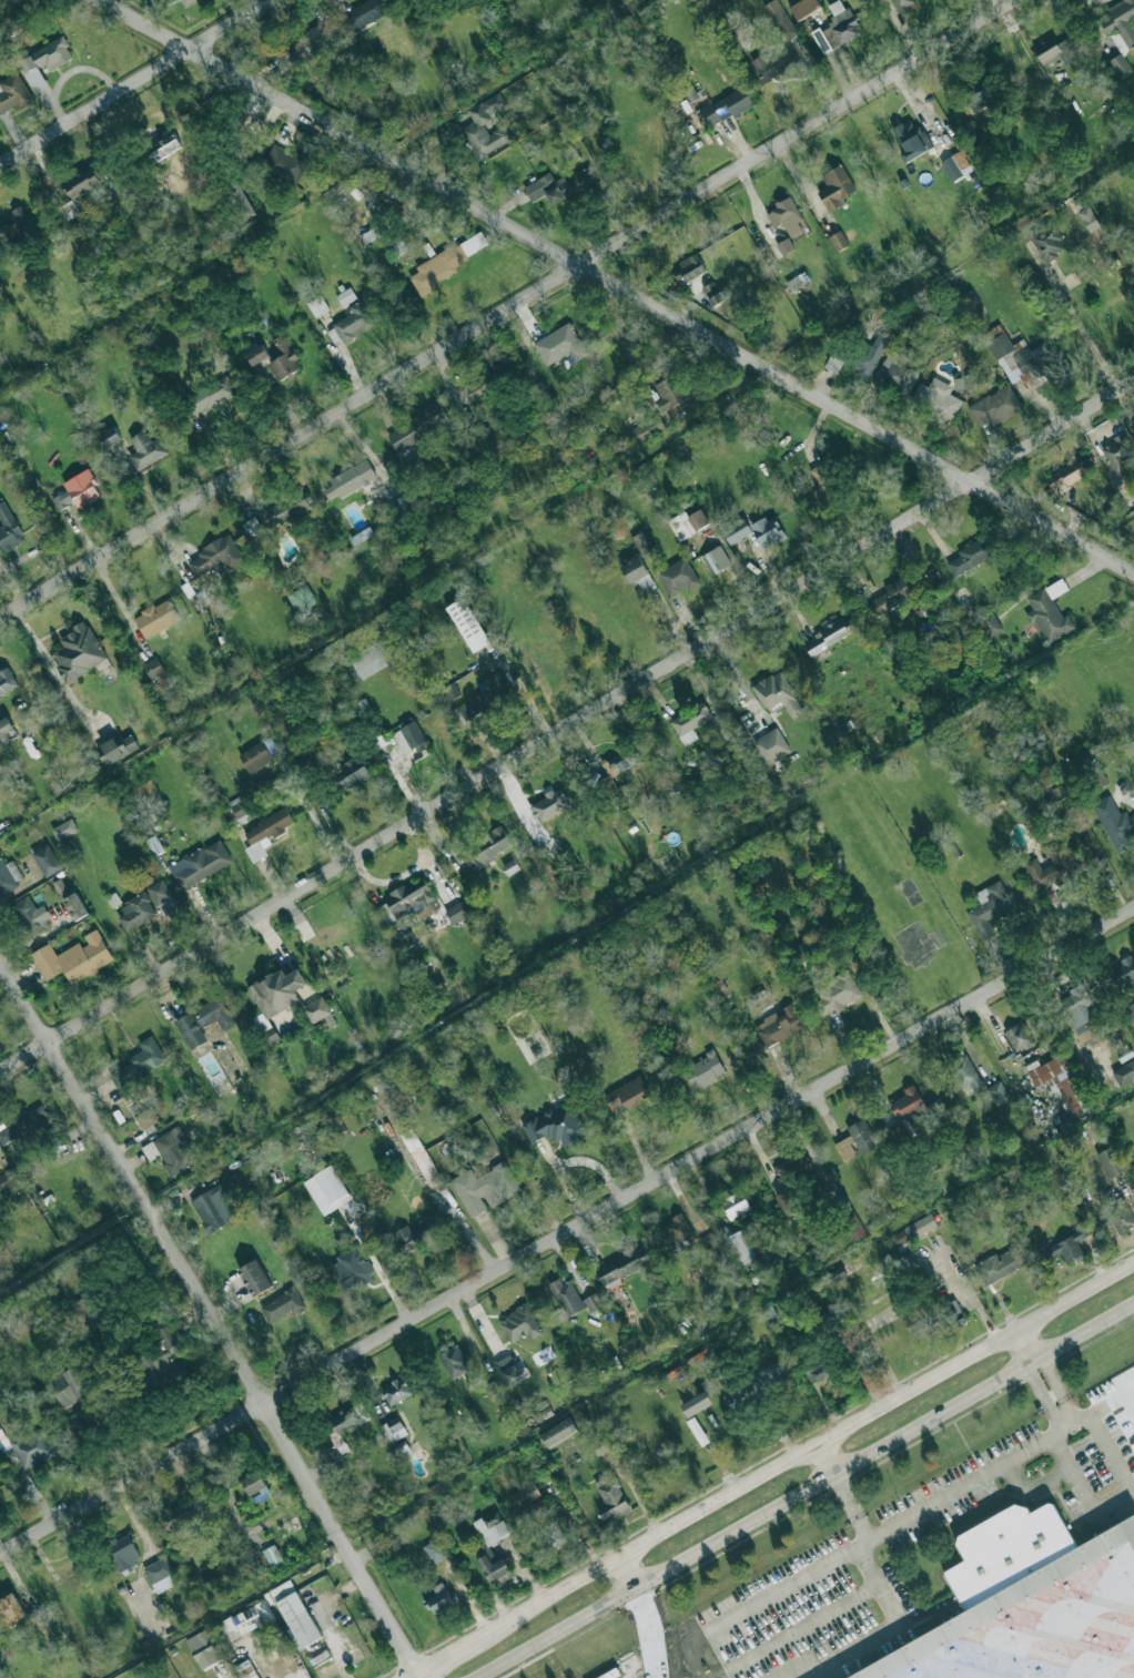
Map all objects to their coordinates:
building: (186, 2)
building: (903, 4)
building: (803, 7)
building: (366, 12)
building: (780, 19)
building: (1120, 23)
building: (836, 28)
building: (305, 45)
building: (1053, 51)
building: (53, 53)
building: (771, 63)
building: (1118, 64)
road: (135, 82)
building: (13, 93)
building: (980, 94)
building: (727, 106)
building: (475, 125)
building: (974, 134)
building: (911, 138)
building: (163, 143)
building: (285, 161)
building: (956, 165)
building: (82, 182)
building: (558, 185)
building: (836, 186)
building: (241, 200)
building: (786, 216)
building: (1089, 218)
building: (14, 226)
building: (838, 241)
building: (1049, 244)
building: (784, 246)
building: (445, 263)
building: (689, 268)
road: (618, 283)
building: (717, 292)
building: (345, 296)
building: (971, 304)
building: (317, 306)
road: (508, 309)
building: (353, 323)
building: (559, 340)
road: (1091, 347)
building: (871, 353)
building: (256, 354)
building: (1019, 356)
building: (283, 358)
building: (897, 374)
building: (669, 393)
building: (212, 395)
building: (995, 406)
building: (1133, 425)
building: (417, 427)
building: (645, 430)
building: (110, 437)
building: (146, 448)
building: (1118, 454)
building: (350, 479)
building: (821, 484)
building: (82, 488)
building: (61, 500)
building: (275, 519)
building: (687, 522)
building: (8, 529)
building: (766, 530)
building: (737, 531)
building: (641, 541)
building: (215, 556)
building: (971, 557)
building: (716, 559)
building: (637, 574)
building: (678, 576)
building: (890, 597)
building: (302, 599)
building: (1049, 611)
building: (156, 617)
building: (990, 622)
building: (468, 624)
building: (826, 638)
building: (78, 652)
road: (41, 654)
building: (371, 658)
building: (153, 668)
building: (7, 680)
building: (452, 691)
building: (777, 694)
building: (482, 700)
building: (362, 708)
road: (567, 729)
building: (6, 730)
building: (686, 732)
building: (408, 736)
building: (271, 745)
building: (771, 745)
building: (118, 749)
building: (255, 757)
building: (352, 772)
building: (548, 805)
building: (239, 806)
road: (316, 821)
building: (1113, 822)
building: (64, 830)
building: (266, 833)
building: (487, 846)
building: (45, 860)
building: (202, 863)
building: (1054, 864)
building: (9, 875)
building: (162, 897)
building: (408, 902)
building: (75, 906)
building: (989, 908)
building: (134, 912)
building: (455, 913)
building: (28, 916)
building: (74, 957)
building: (1126, 974)
building: (837, 990)
building: (274, 998)
building: (1077, 1004)
building: (317, 1009)
building: (1130, 1011)
building: (213, 1013)
building: (778, 1026)
building: (191, 1030)
building: (1019, 1037)
building: (138, 1064)
building: (705, 1070)
building: (963, 1072)
building: (1124, 1072)
building: (1059, 1080)
building: (998, 1092)
building: (626, 1094)
building: (907, 1104)
building: (146, 1118)
building: (555, 1125)
building: (22, 1126)
building: (855, 1140)
building: (170, 1150)
building: (421, 1157)
building: (1111, 1161)
building: (783, 1171)
building: (485, 1188)
building: (327, 1190)
building: (787, 1202)
building: (736, 1204)
building: (215, 1207)
building: (1121, 1218)
building: (677, 1228)
building: (854, 1229)
building: (914, 1229)
road: (566, 1232)
building: (417, 1233)
building: (707, 1239)
building: (1066, 1247)
building: (739, 1248)
building: (622, 1264)
building: (1000, 1264)
building: (352, 1268)
building: (254, 1277)
road: (973, 1294)
building: (566, 1296)
building: (593, 1302)
road: (205, 1304)
building: (281, 1305)
building: (84, 1312)
building: (519, 1324)
road: (1025, 1348)
building: (165, 1359)
building: (455, 1360)
road: (1034, 1363)
building: (510, 1370)
building: (817, 1372)
building: (758, 1382)
road: (1060, 1390)
building: (396, 1391)
building: (77, 1397)
road: (1042, 1400)
building: (696, 1404)
building: (393, 1428)
road: (1067, 1428)
building: (697, 1431)
building: (558, 1433)
building: (340, 1436)
building: (603, 1444)
building: (31, 1448)
building: (403, 1450)
road: (824, 1462)
road: (770, 1473)
building: (255, 1486)
road: (804, 1492)
building: (524, 1495)
road: (1117, 1497)
building: (611, 1498)
road: (929, 1506)
building: (178, 1517)
building: (492, 1527)
building: (551, 1534)
road: (858, 1547)
building: (435, 1550)
building: (272, 1555)
building: (494, 1565)
building: (160, 1574)
road: (624, 1576)
building: (438, 1598)
building: (1031, 1605)
road: (753, 1607)
building: (10, 1610)
building: (295, 1614)
building: (242, 1621)
road: (883, 1629)
road: (793, 1631)
building: (203, 1649)
road: (335, 1654)
road: (412, 1664)
road: (277, 1665)
building: (247, 1669)
road: (221, 1674)
road: (645, 1674)

